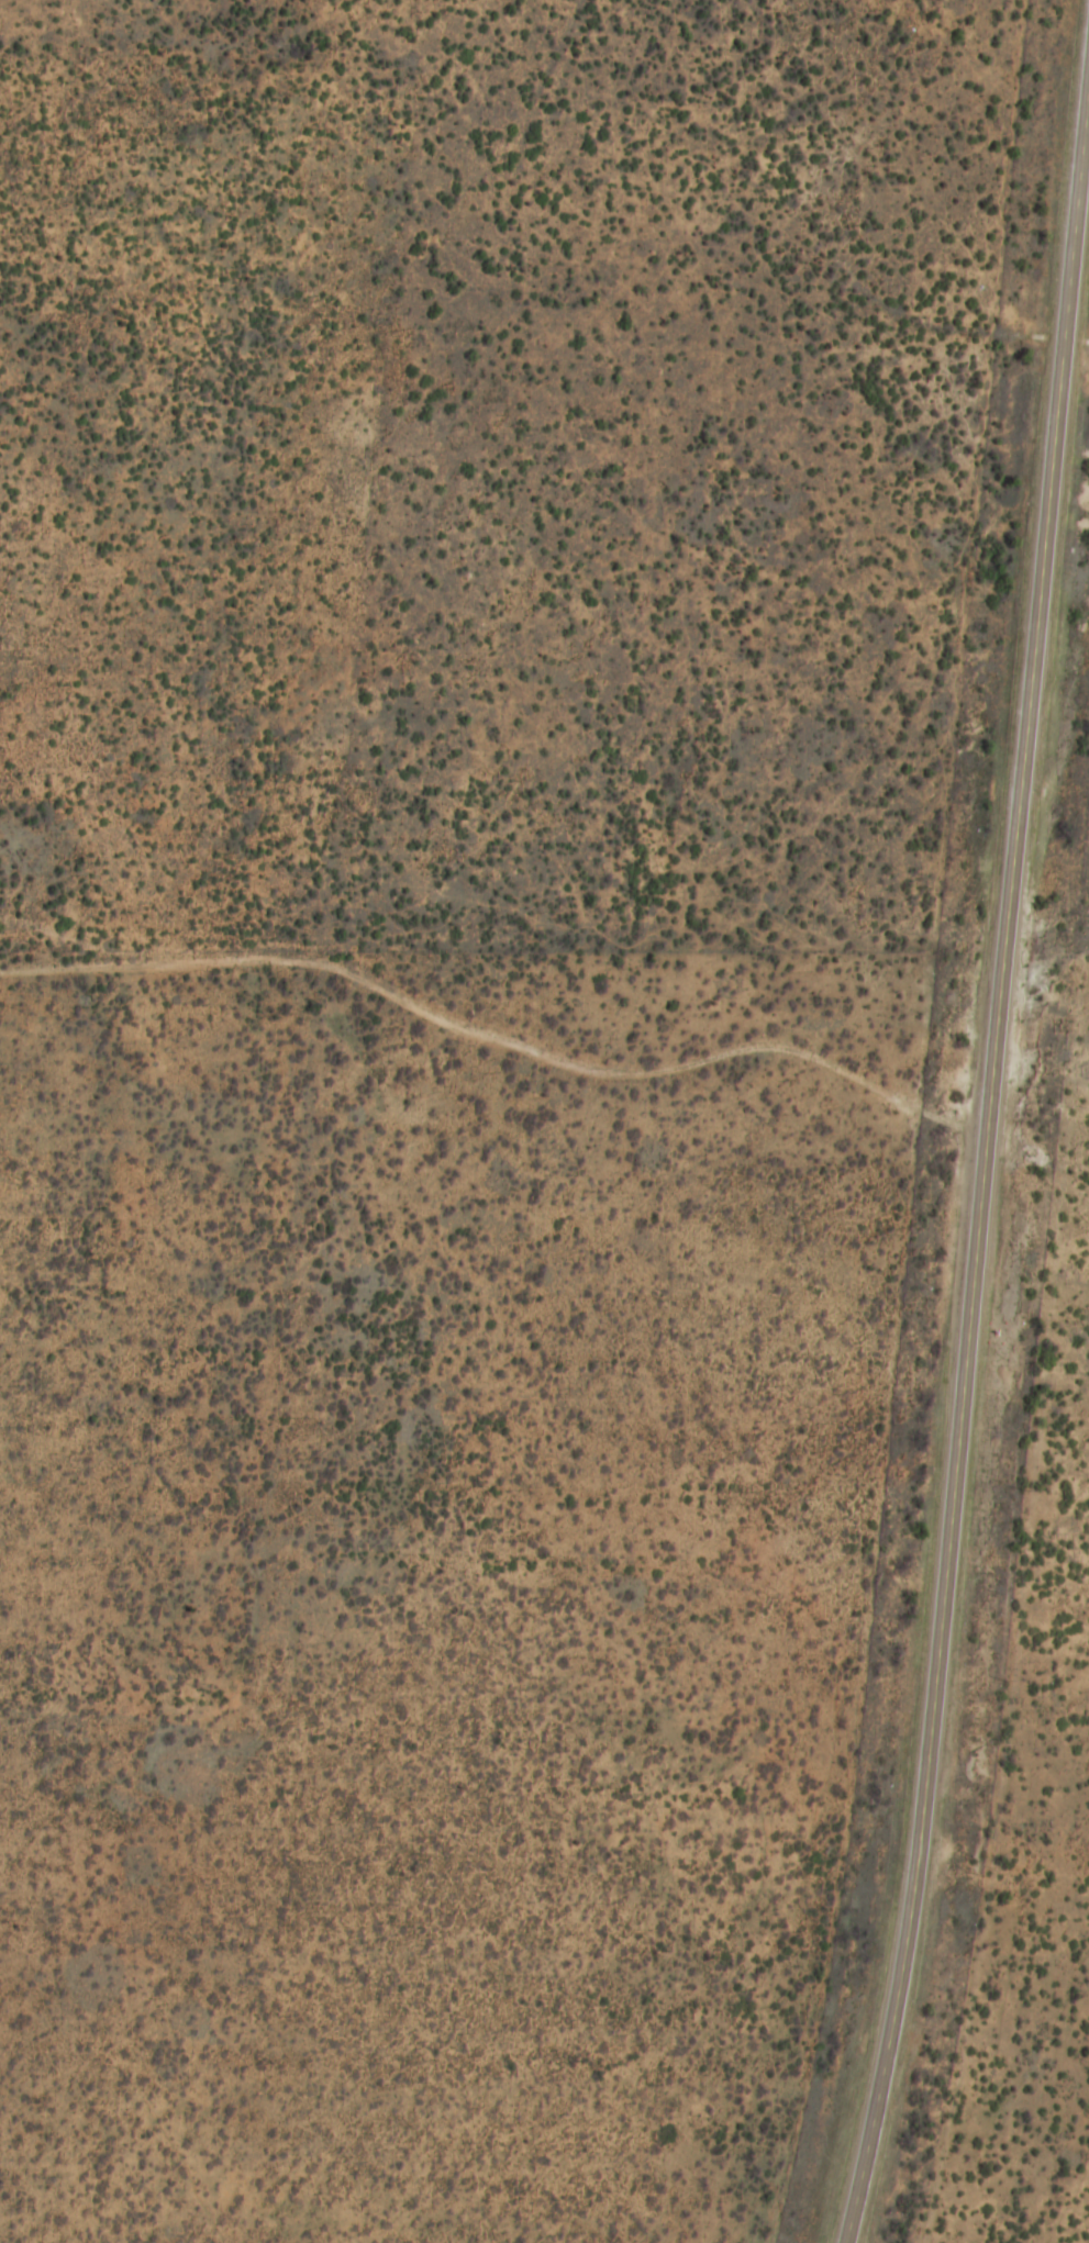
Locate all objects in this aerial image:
road: (498, 1039)
road: (984, 1160)

